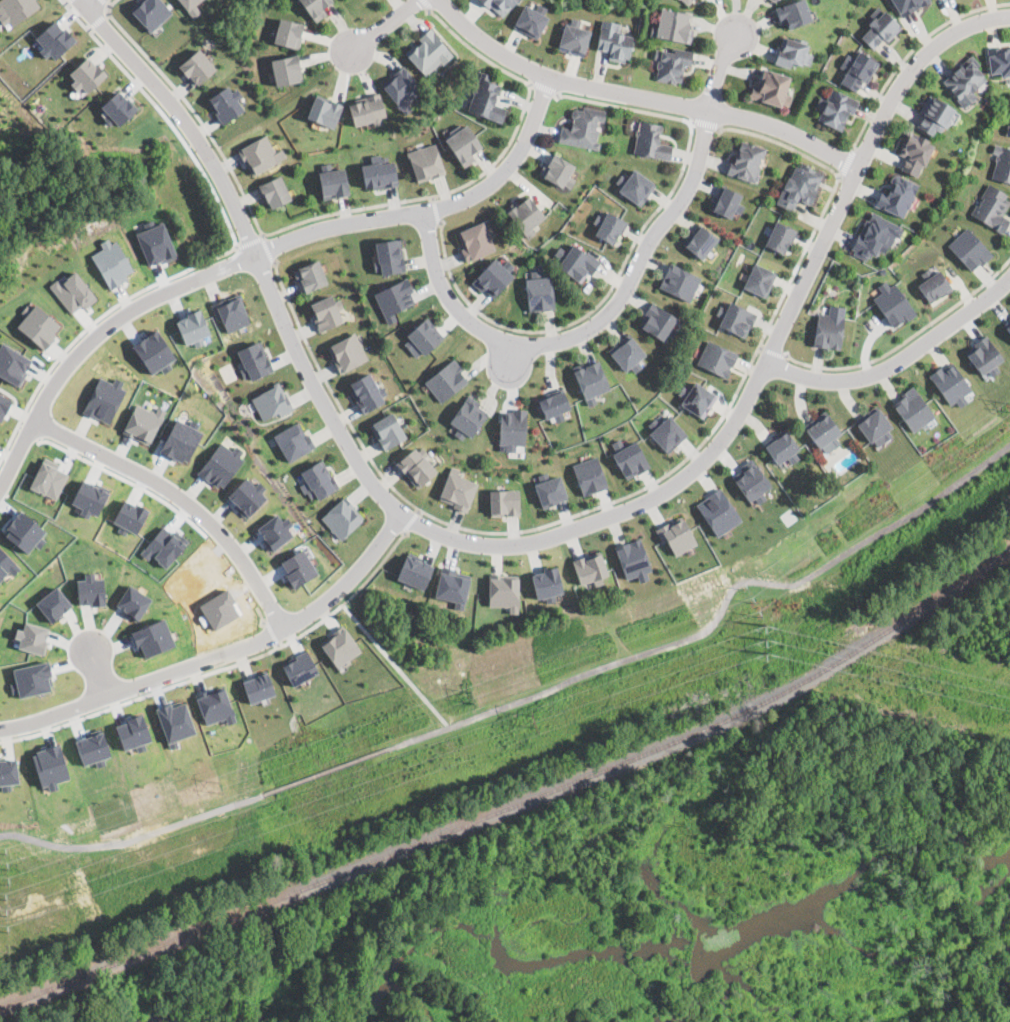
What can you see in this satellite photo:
building: (775, 0)
building: (688, 1)
road: (67, 2)
road: (92, 3)
road: (106, 3)
building: (189, 3)
road: (426, 5)
building: (499, 5)
building: (908, 5)
building: (314, 7)
building: (15, 10)
building: (151, 12)
building: (793, 13)
building: (530, 19)
road: (99, 22)
road: (382, 26)
building: (673, 26)
building: (880, 27)
building: (288, 32)
building: (573, 37)
building: (53, 39)
building: (614, 40)
building: (429, 51)
building: (793, 51)
road: (911, 52)
road: (108, 53)
building: (1000, 59)
building: (672, 63)
building: (196, 67)
building: (857, 69)
building: (286, 70)
road: (721, 70)
building: (86, 74)
building: (965, 80)
building: (771, 87)
road: (545, 88)
building: (402, 89)
road: (641, 97)
building: (486, 98)
building: (225, 104)
building: (118, 106)
building: (835, 108)
road: (192, 110)
building: (324, 110)
building: (367, 110)
building: (934, 115)
road: (706, 124)
building: (583, 127)
building: (1008, 129)
building: (651, 140)
building: (462, 143)
building: (915, 152)
building: (260, 155)
building: (427, 161)
building: (747, 161)
building: (1002, 162)
road: (845, 163)
building: (557, 170)
building: (379, 172)
road: (484, 172)
building: (333, 181)
building: (634, 185)
building: (799, 186)
building: (275, 192)
building: (897, 194)
road: (433, 198)
building: (726, 201)
building: (992, 207)
road: (436, 211)
building: (526, 215)
building: (608, 226)
building: (875, 235)
building: (781, 236)
building: (475, 241)
building: (700, 241)
building: (155, 243)
road: (250, 243)
road: (261, 249)
road: (268, 249)
building: (969, 249)
road: (228, 252)
road: (627, 255)
building: (387, 256)
building: (110, 261)
building: (576, 261)
building: (310, 275)
building: (493, 276)
building: (760, 280)
building: (679, 282)
building: (933, 284)
building: (72, 291)
building: (539, 291)
building: (394, 298)
building: (893, 303)
building: (231, 312)
building: (326, 312)
building: (735, 318)
building: (658, 321)
building: (37, 325)
building: (1007, 325)
road: (590, 326)
building: (191, 327)
building: (829, 327)
building: (422, 337)
road: (905, 341)
building: (153, 350)
building: (347, 351)
road: (772, 351)
building: (627, 353)
building: (984, 355)
road: (510, 358)
building: (717, 358)
building: (254, 360)
road: (897, 360)
building: (12, 363)
building: (446, 379)
building: (590, 379)
building: (950, 384)
building: (366, 392)
building: (104, 398)
building: (696, 399)
building: (272, 402)
building: (554, 403)
building: (3, 404)
building: (913, 409)
building: (467, 417)
building: (142, 422)
building: (874, 425)
building: (512, 428)
building: (388, 430)
building: (823, 430)
building: (666, 432)
building: (180, 440)
building: (293, 440)
building: (781, 446)
building: (628, 458)
building: (220, 465)
building: (417, 465)
building: (589, 475)
building: (48, 477)
building: (317, 480)
building: (751, 481)
building: (457, 489)
building: (549, 489)
road: (634, 493)
building: (246, 495)
building: (89, 497)
road: (182, 498)
building: (503, 502)
building: (717, 511)
road: (419, 512)
building: (129, 516)
building: (342, 517)
road: (410, 522)
building: (274, 530)
building: (676, 535)
road: (535, 541)
building: (162, 546)
building: (633, 559)
building: (5, 564)
building: (297, 567)
building: (590, 568)
building: (414, 570)
building: (546, 583)
building: (452, 585)
building: (90, 590)
building: (503, 591)
power tower: (748, 601)
building: (53, 603)
road: (328, 616)
road: (715, 618)
road: (272, 634)
building: (31, 636)
building: (153, 637)
power tower: (760, 639)
building: (340, 646)
road: (222, 653)
road: (396, 666)
building: (299, 667)
road: (99, 673)
building: (31, 678)
building: (257, 686)
power tower: (470, 694)
building: (214, 705)
power tower: (529, 720)
building: (8, 770)
road: (326, 772)
power tower: (217, 785)
road: (134, 840)
power tower: (3, 867)
power tower: (3, 914)

